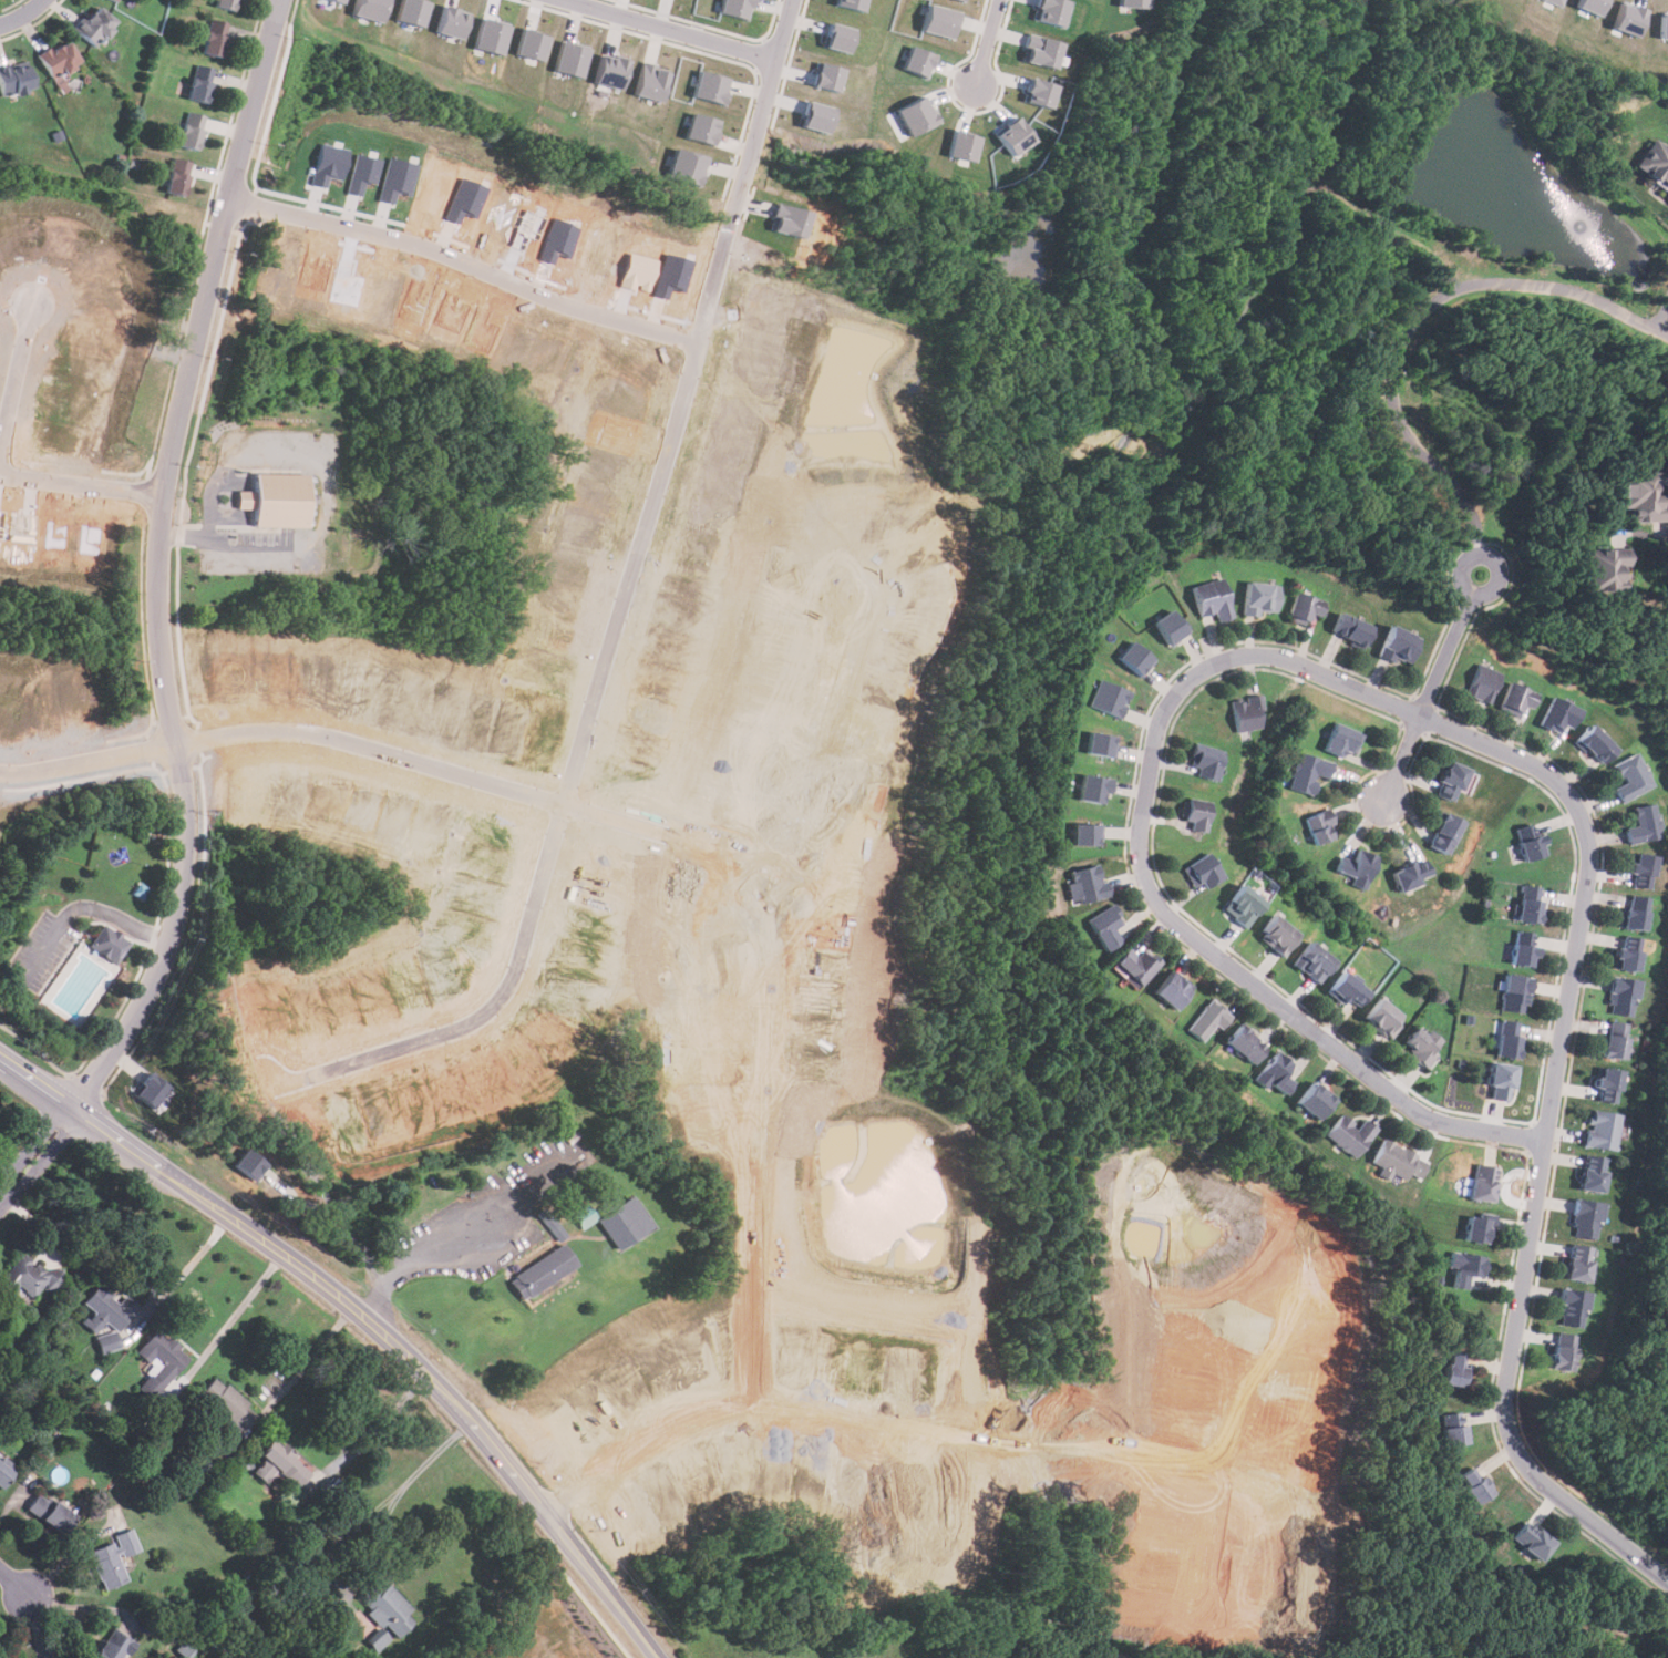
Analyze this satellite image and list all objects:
building: (113, 0)
building: (115, 0)
building: (959, 0)
building: (338, 1)
building: (1555, 2)
building: (224, 3)
building: (847, 3)
building: (1132, 3)
building: (1592, 6)
building: (735, 8)
building: (370, 9)
building: (412, 11)
building: (1048, 11)
road: (23, 16)
building: (1630, 19)
building: (452, 21)
building: (939, 21)
building: (94, 25)
building: (1665, 25)
road: (676, 29)
building: (491, 35)
building: (214, 38)
building: (836, 38)
road: (988, 41)
building: (532, 44)
building: (1039, 50)
building: (59, 59)
building: (570, 59)
building: (916, 61)
building: (610, 71)
building: (825, 76)
building: (14, 79)
building: (650, 81)
building: (199, 83)
building: (709, 86)
building: (1038, 92)
building: (915, 114)
building: (815, 116)
building: (700, 128)
building: (191, 130)
building: (1012, 135)
building: (961, 145)
building: (1655, 162)
building: (686, 166)
building: (177, 177)
building: (1667, 197)
building: (790, 219)
road: (469, 266)
road: (1415, 318)
road: (1662, 321)
road: (25, 392)
road: (85, 485)
building: (1644, 497)
building: (274, 503)
road: (1655, 546)
road: (165, 564)
building: (1605, 569)
building: (1262, 598)
building: (1212, 599)
building: (1305, 608)
road: (628, 621)
building: (1172, 626)
building: (1351, 630)
building: (1399, 646)
building: (1136, 657)
road: (1221, 661)
building: (1482, 684)
road: (1430, 691)
building: (1111, 697)
building: (1515, 700)
building: (1247, 713)
building: (1558, 715)
building: (1342, 740)
building: (1101, 743)
building: (1595, 744)
road: (389, 754)
building: (1206, 761)
building: (1307, 772)
building: (1630, 777)
building: (1450, 782)
building: (1094, 786)
building: (1196, 813)
building: (1643, 825)
building: (1320, 826)
building: (1085, 833)
building: (1444, 834)
building: (1530, 841)
building: (1356, 868)
building: (1202, 872)
building: (1641, 872)
building: (1410, 875)
building: (1088, 884)
building: (1530, 905)
building: (1243, 906)
road: (82, 907)
building: (1635, 913)
building: (1105, 926)
building: (1277, 936)
building: (107, 945)
building: (1523, 949)
building: (1627, 954)
building: (1314, 962)
building: (1137, 965)
road: (756, 990)
building: (1173, 990)
building: (1347, 990)
building: (1515, 995)
building: (1621, 997)
building: (1383, 1018)
building: (1207, 1021)
building: (1507, 1040)
building: (1615, 1041)
building: (1245, 1044)
building: (1421, 1046)
building: (1275, 1074)
building: (1501, 1081)
building: (1607, 1085)
building: (151, 1090)
building: (1315, 1101)
building: (161, 1104)
building: (1602, 1131)
building: (1350, 1134)
road: (112, 1139)
road: (35, 1155)
building: (1398, 1161)
building: (249, 1163)
building: (1592, 1174)
building: (1482, 1183)
building: (1585, 1218)
building: (624, 1224)
road: (342, 1226)
road: (467, 1228)
building: (1476, 1229)
road: (250, 1235)
road: (477, 1258)
building: (1578, 1263)
building: (1465, 1268)
road: (184, 1270)
building: (540, 1271)
building: (27, 1276)
road: (313, 1279)
building: (1572, 1308)
road: (357, 1311)
building: (106, 1314)
road: (228, 1320)
building: (1563, 1351)
building: (161, 1357)
road: (310, 1357)
building: (1455, 1369)
road: (1509, 1396)
building: (227, 1403)
road: (868, 1414)
road: (372, 1422)
building: (1454, 1428)
road: (1226, 1456)
building: (280, 1464)
road: (423, 1465)
building: (3, 1474)
road: (518, 1481)
building: (1474, 1484)
road: (885, 1496)
building: (49, 1512)
building: (1532, 1541)
building: (112, 1558)
road: (14, 1583)
building: (385, 1607)
building: (378, 1640)
building: (111, 1645)

